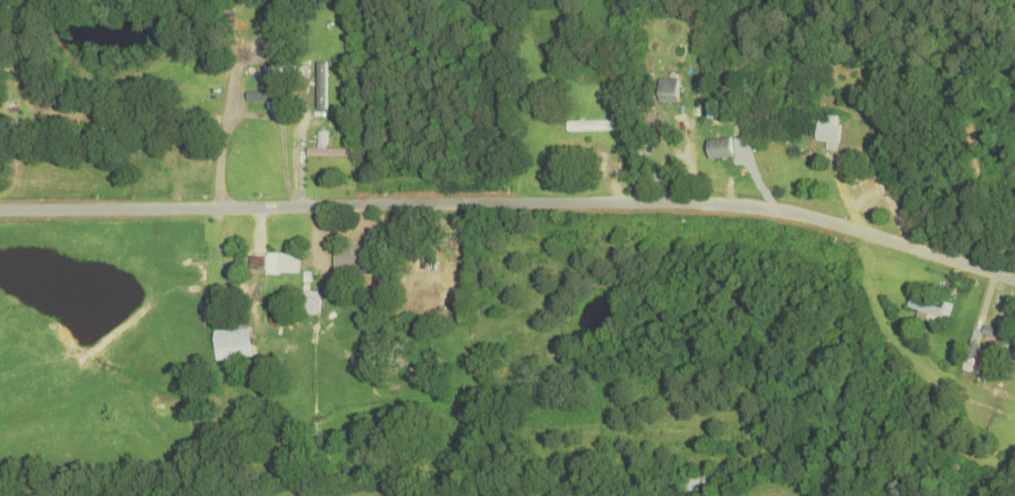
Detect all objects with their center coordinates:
building: (7, 63)
building: (264, 72)
building: (667, 91)
building: (589, 126)
building: (828, 131)
building: (136, 141)
building: (719, 149)
building: (326, 153)
road: (512, 201)
building: (354, 258)
building: (424, 260)
building: (273, 264)
building: (450, 271)
building: (926, 306)
building: (998, 338)
building: (231, 339)
building: (698, 484)

